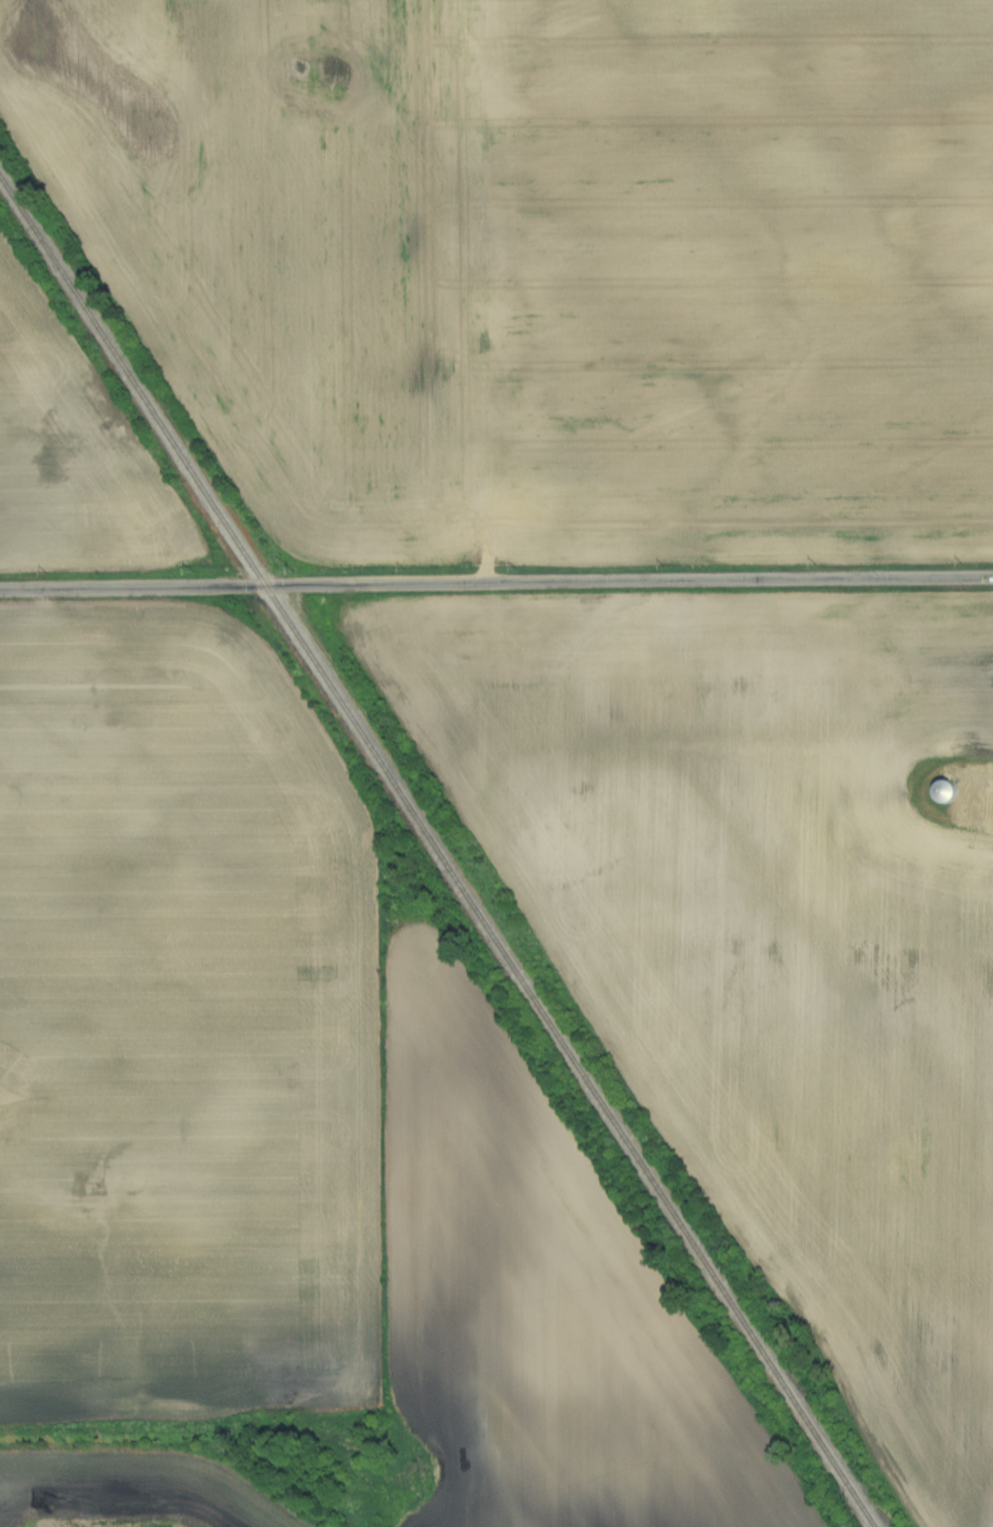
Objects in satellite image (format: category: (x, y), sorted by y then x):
crop: (545, 267)
road: (496, 584)
building: (969, 789)
building: (948, 791)
railway: (440, 844)

